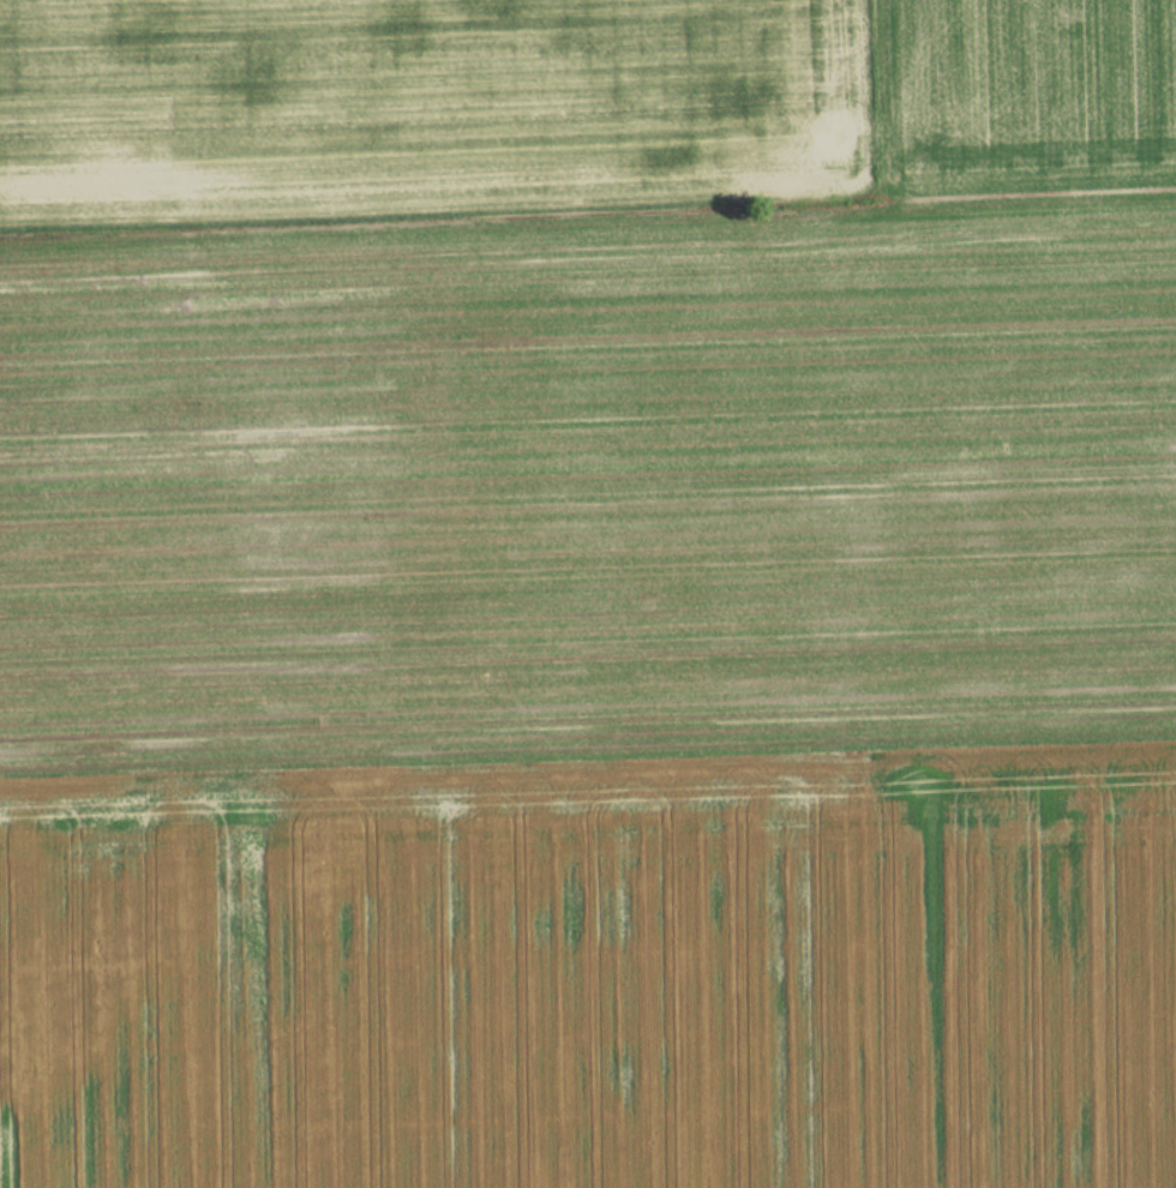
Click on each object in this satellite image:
crop: (1027, 92)
crop: (430, 109)
crop: (592, 700)

